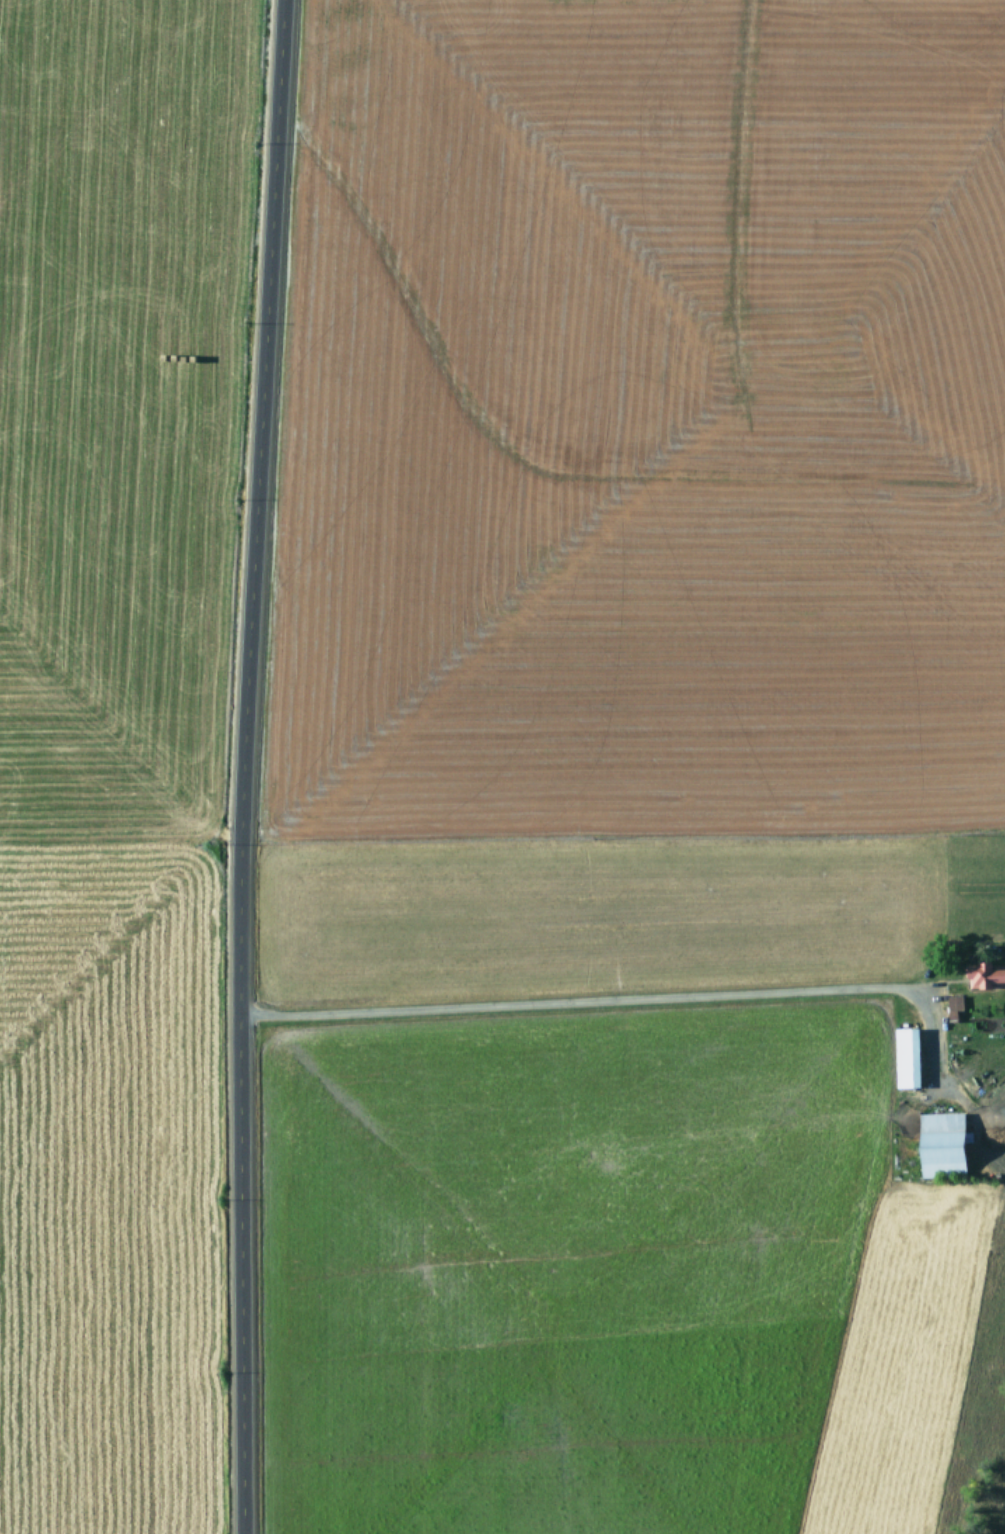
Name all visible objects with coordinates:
crop: (109, 737)
road: (252, 766)
crop: (654, 777)
building: (983, 974)
building: (904, 1058)
road: (623, 1061)

